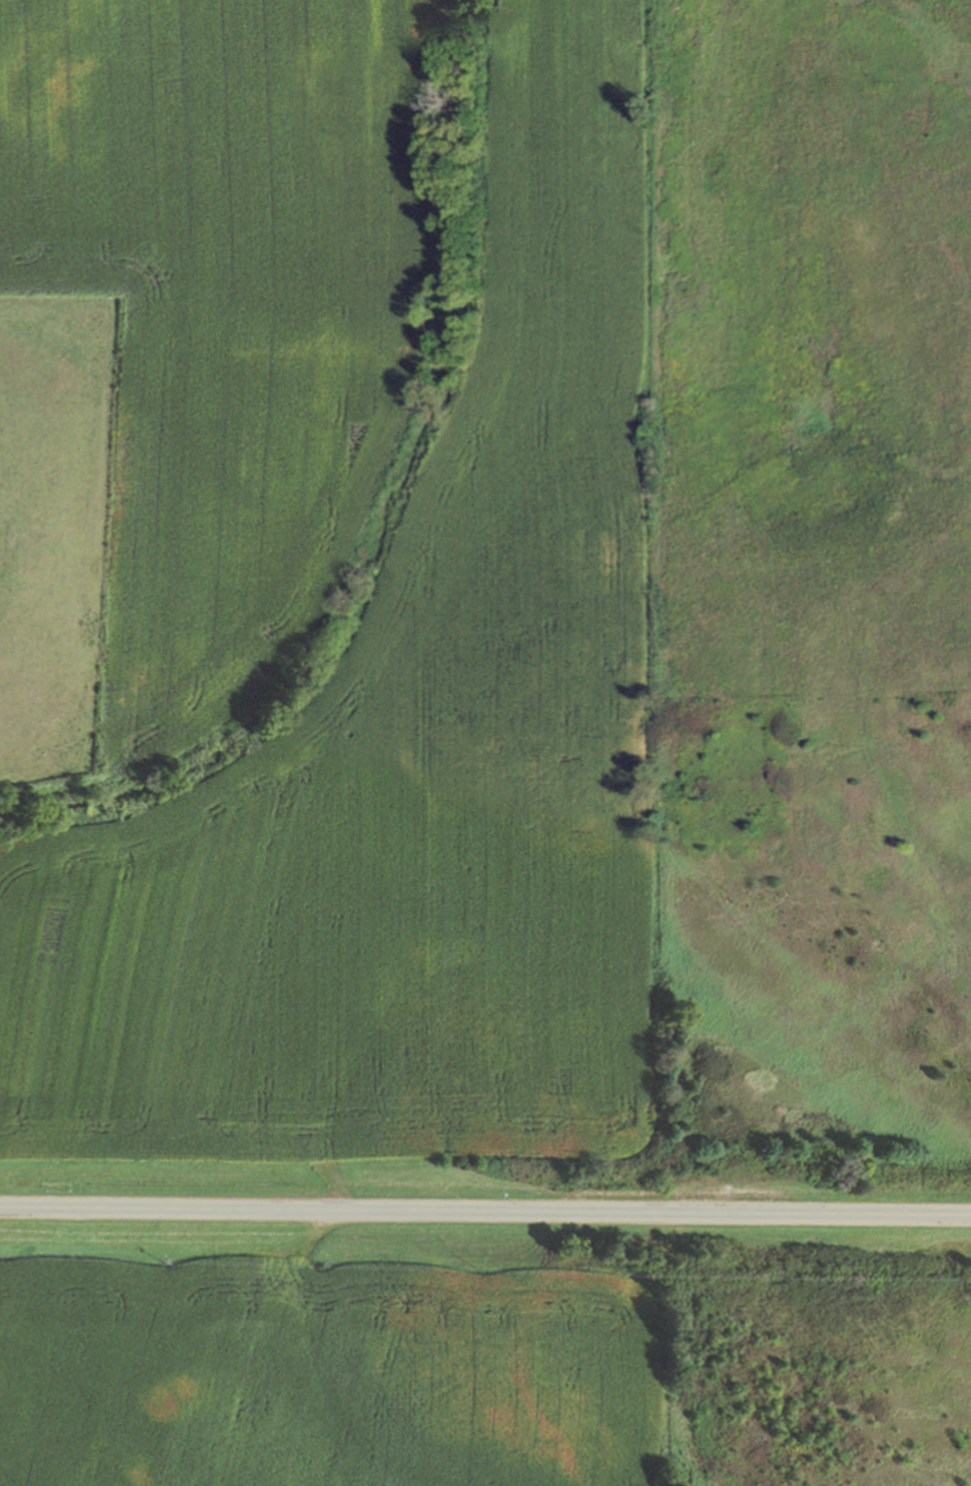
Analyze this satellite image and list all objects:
road: (485, 1212)

